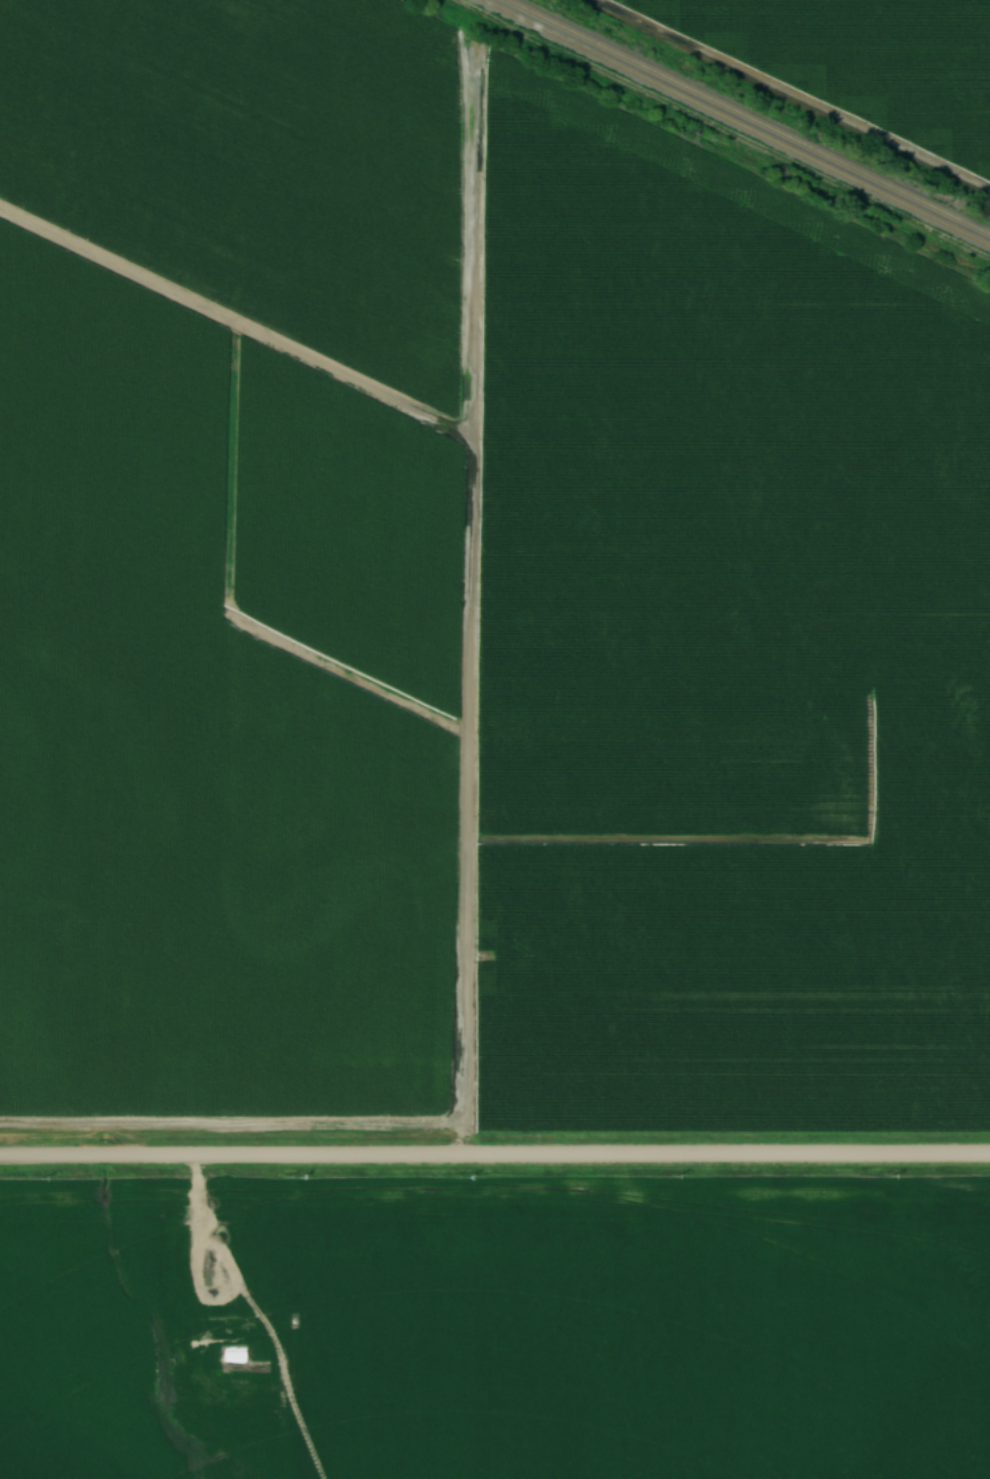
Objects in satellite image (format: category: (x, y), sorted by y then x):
railway: (746, 118)
railway: (734, 124)
road: (495, 1159)
building: (238, 1204)
building: (170, 1210)
building: (219, 1332)

